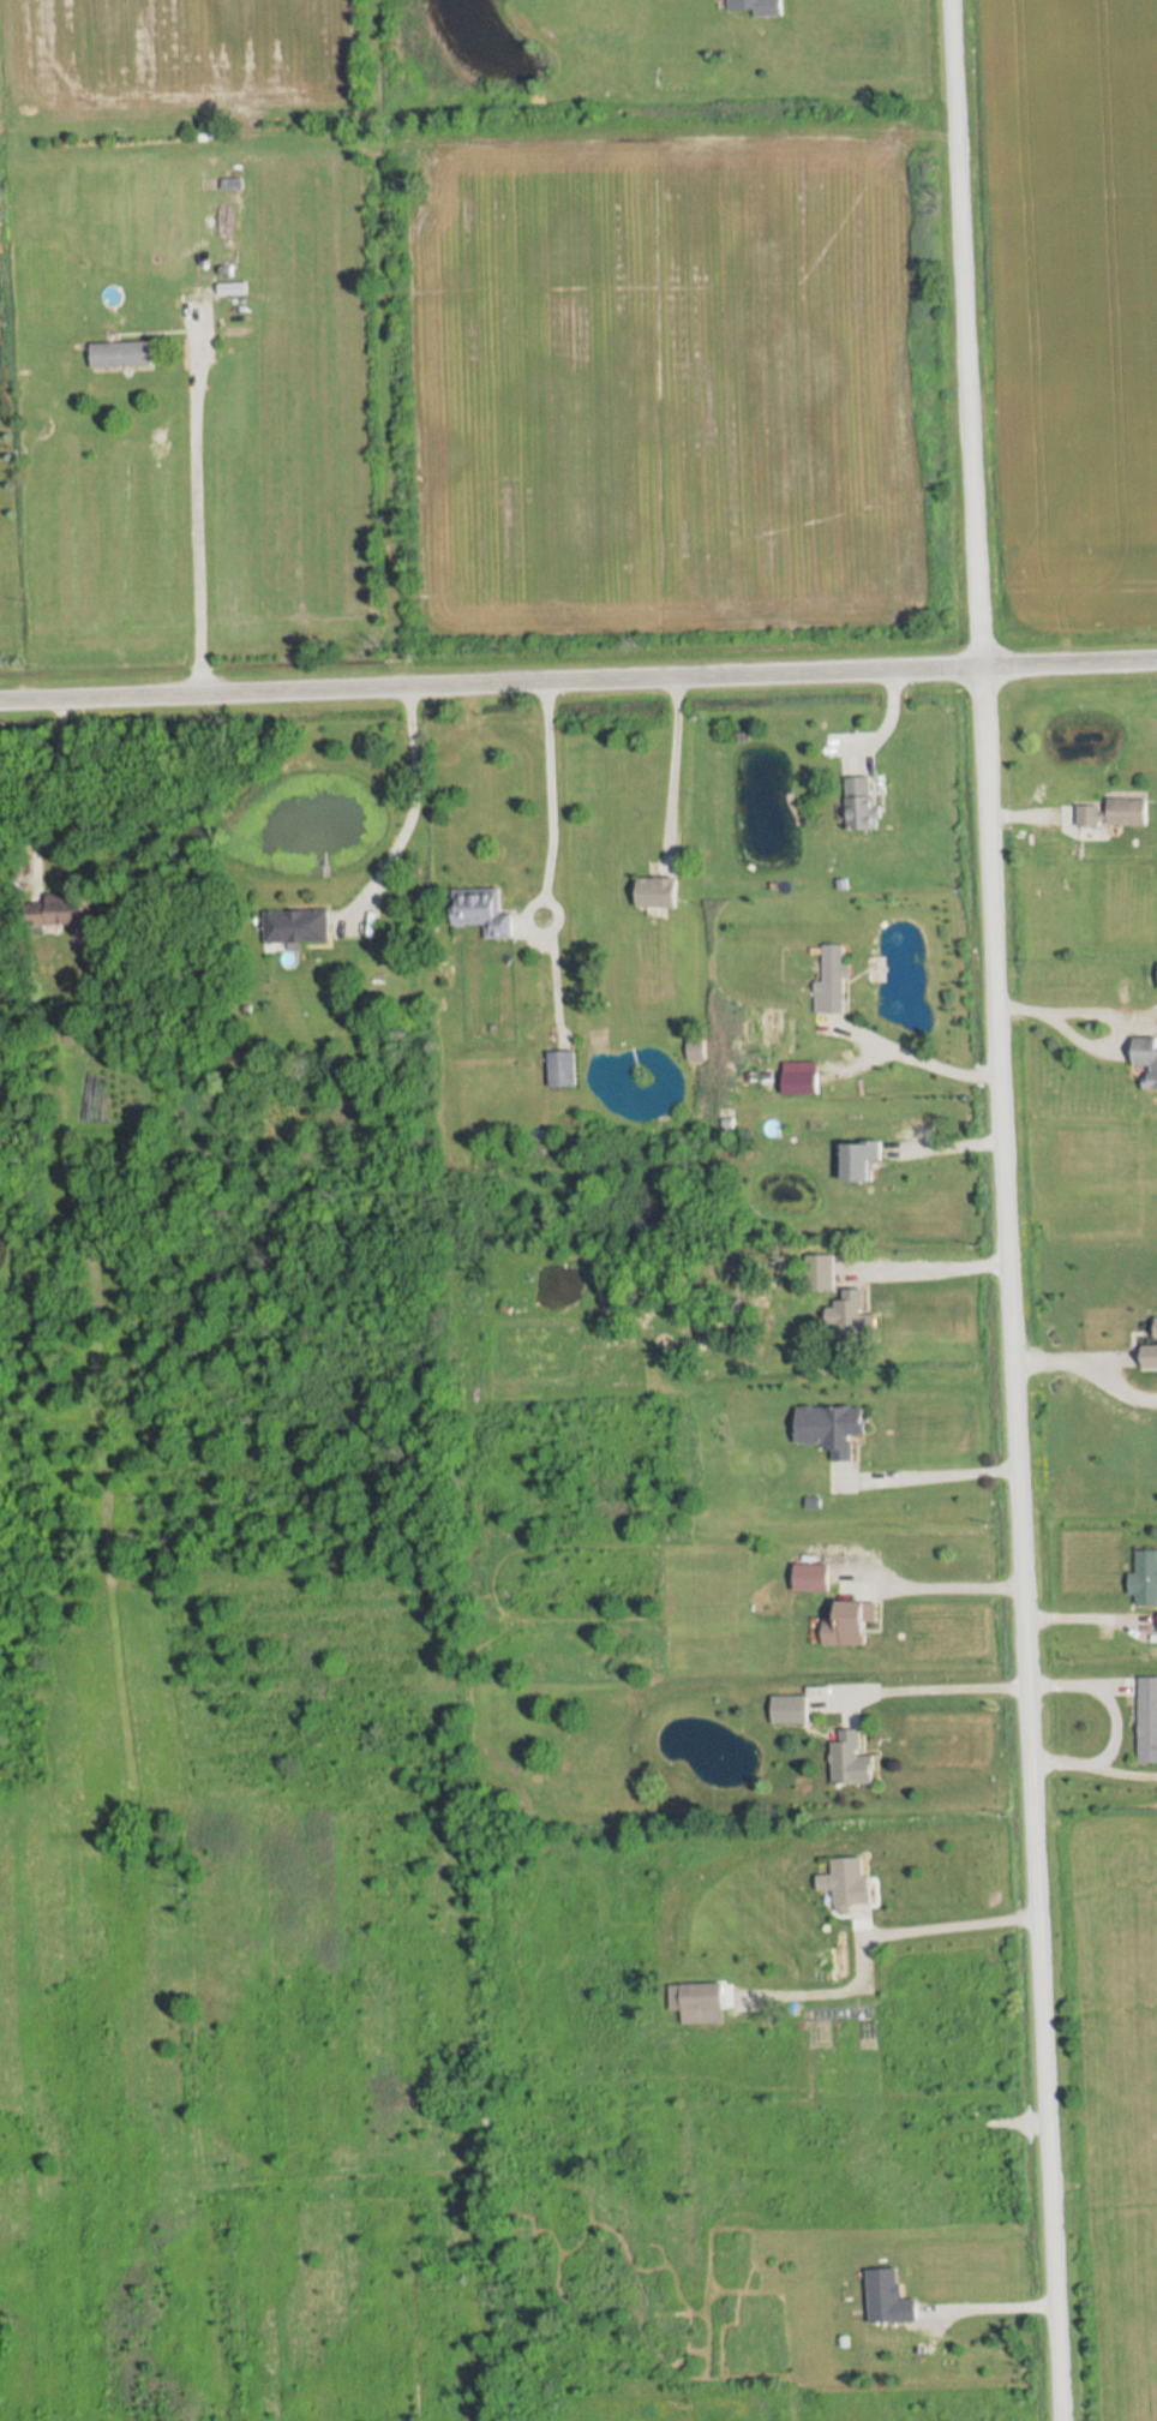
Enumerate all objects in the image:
building: (760, 7)
building: (122, 355)
road: (196, 515)
road: (578, 682)
road: (672, 772)
road: (43, 785)
road: (550, 800)
building: (863, 805)
road: (404, 808)
building: (1113, 813)
building: (659, 893)
building: (60, 910)
building: (482, 911)
building: (296, 926)
building: (833, 980)
road: (1116, 1020)
road: (915, 1057)
building: (1146, 1057)
building: (560, 1066)
building: (801, 1082)
building: (862, 1160)
road: (1005, 1210)
road: (935, 1259)
building: (822, 1272)
building: (851, 1317)
road: (1075, 1350)
building: (831, 1427)
road: (987, 1470)
road: (953, 1471)
road: (895, 1475)
building: (1146, 1577)
building: (811, 1578)
road: (949, 1578)
building: (851, 1624)
road: (925, 1678)
building: (790, 1709)
road: (1109, 1718)
building: (1147, 1720)
building: (851, 1761)
building: (851, 1881)
road: (874, 1925)
building: (702, 1996)
building: (883, 2295)
road: (1025, 2307)
road: (983, 2309)
road: (936, 2311)

